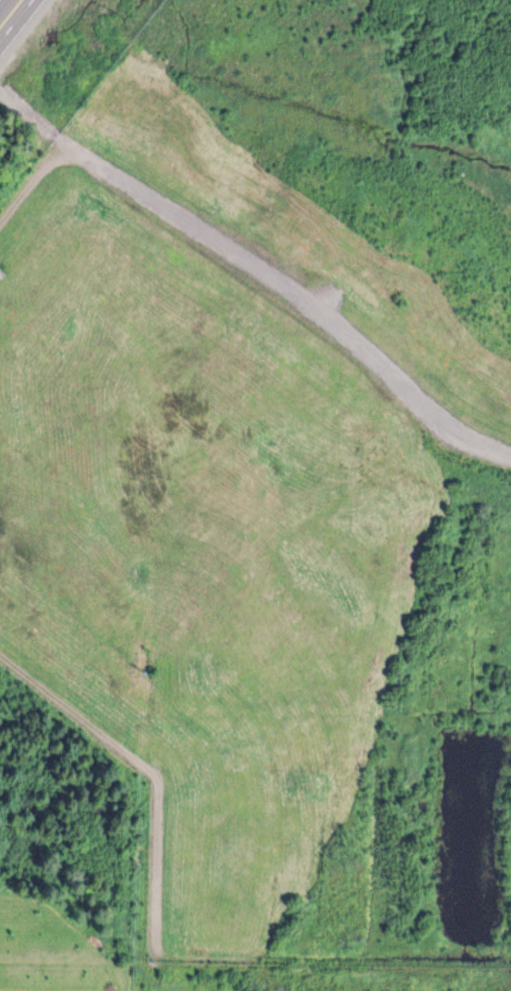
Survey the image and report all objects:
road: (11, 14)
airport: (279, 468)

